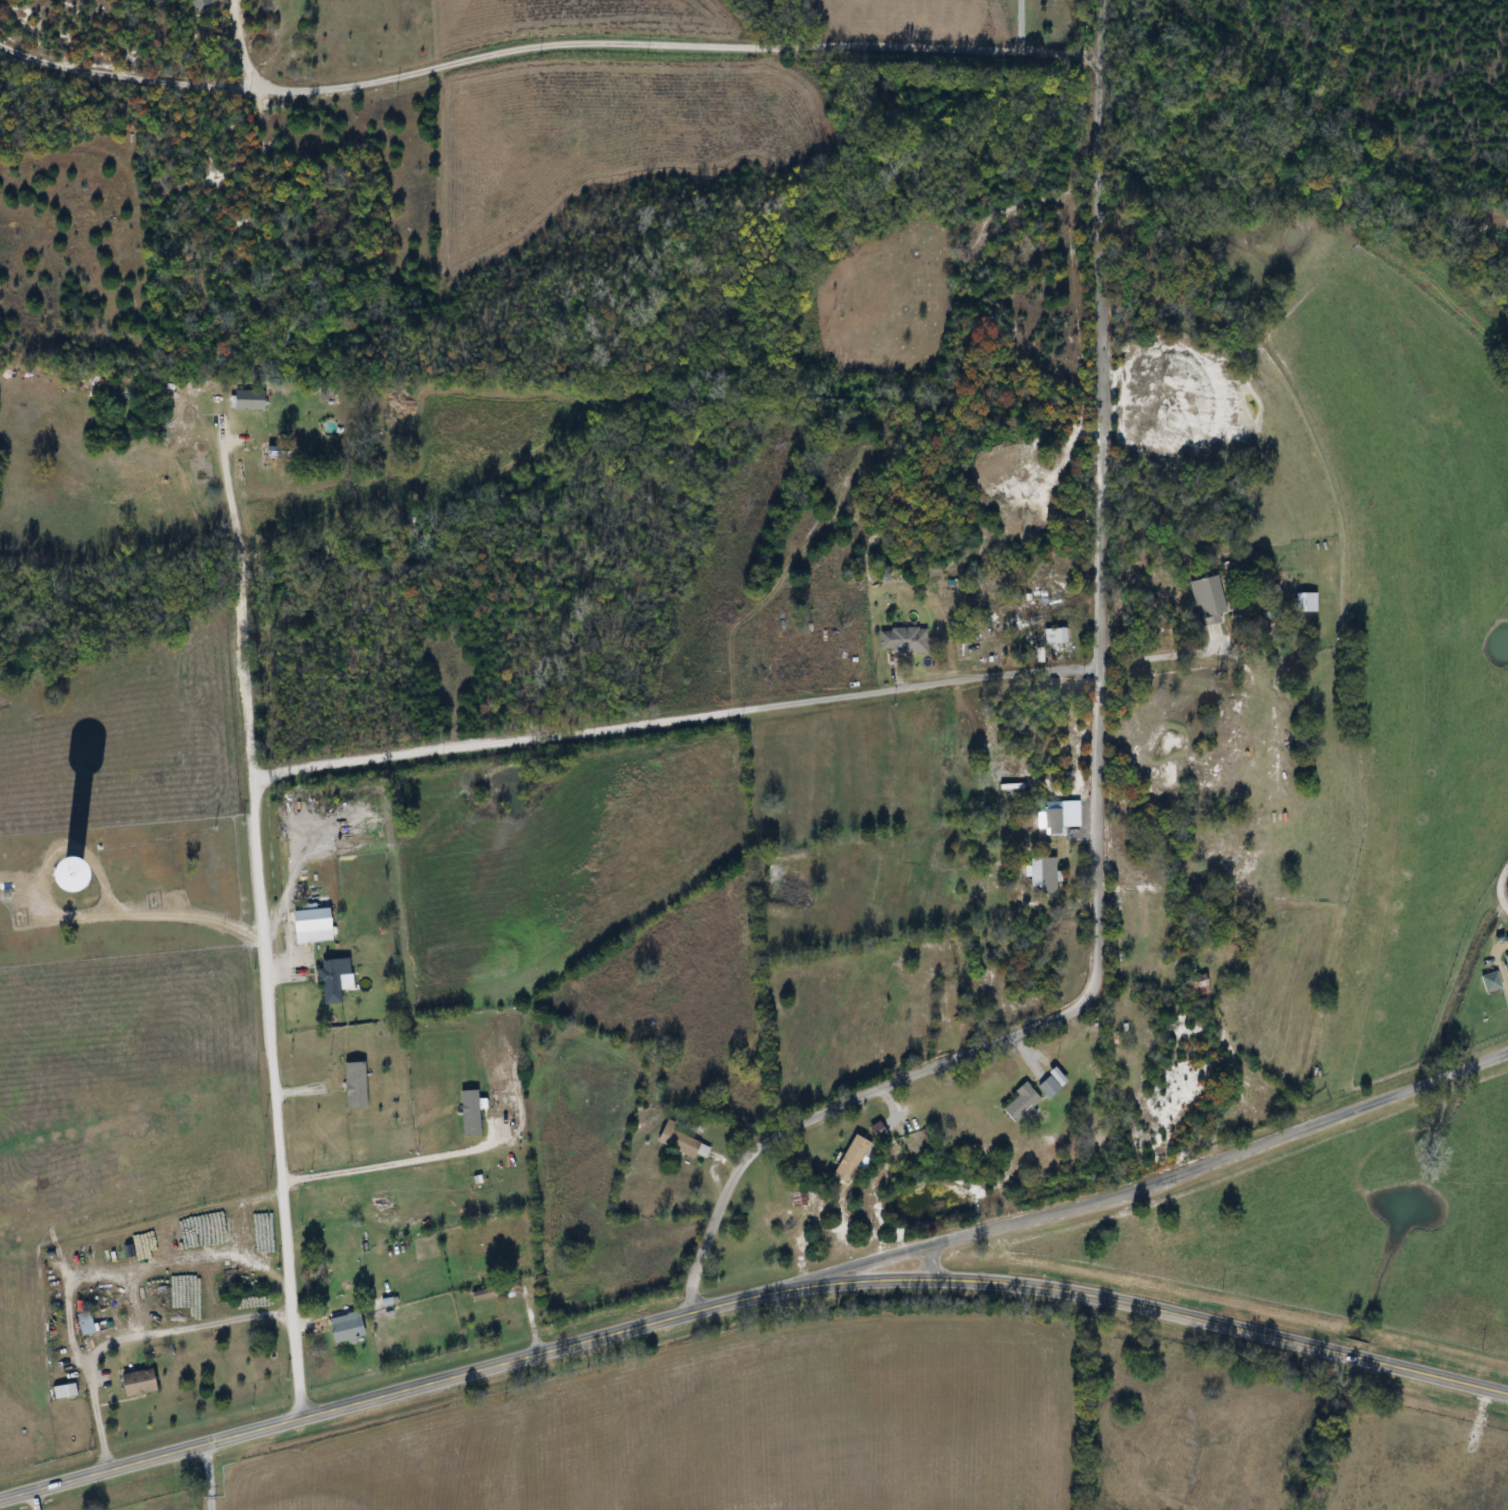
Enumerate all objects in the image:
road: (232, 44)
road: (541, 45)
building: (251, 401)
road: (240, 586)
building: (1211, 600)
building: (1309, 604)
building: (1058, 638)
building: (905, 642)
road: (1159, 657)
road: (674, 719)
road: (1099, 771)
building: (1056, 822)
building: (124, 867)
building: (1048, 875)
road: (1500, 886)
road: (161, 911)
building: (310, 923)
building: (332, 982)
building: (345, 1076)
building: (1052, 1088)
road: (275, 1097)
building: (1025, 1103)
building: (683, 1142)
building: (855, 1160)
road: (397, 1161)
road: (1210, 1165)
building: (236, 1256)
building: (483, 1296)
road: (748, 1298)
building: (87, 1324)
building: (348, 1327)
road: (134, 1338)
building: (141, 1383)
building: (66, 1392)
road: (206, 1477)
road: (31, 1500)

